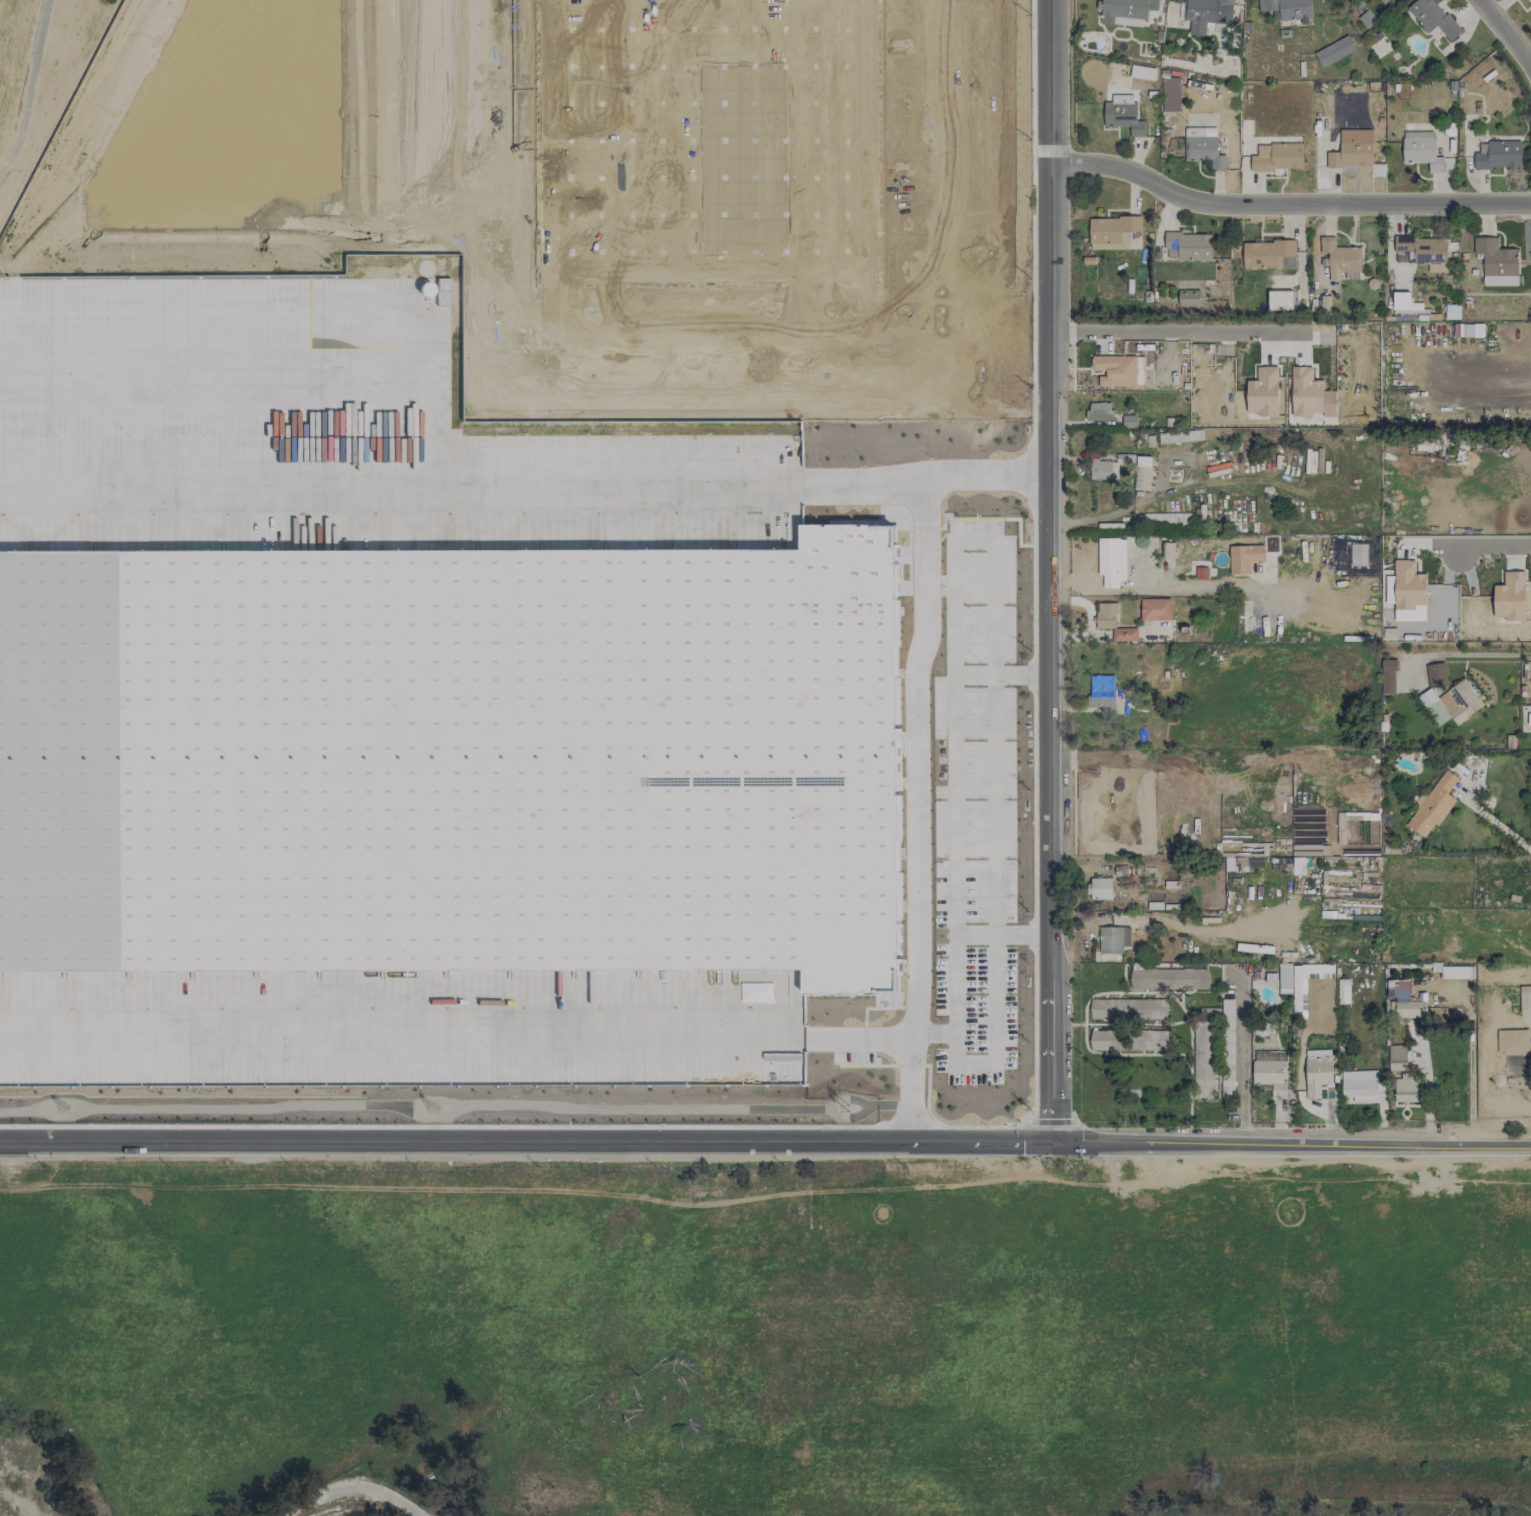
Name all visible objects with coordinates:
building: (1383, 1)
building: (1529, 2)
road: (1521, 8)
building: (1288, 9)
building: (1206, 14)
building: (1432, 18)
building: (1367, 19)
building: (1334, 51)
building: (1142, 72)
park: (37, 76)
road: (27, 85)
building: (1170, 94)
building: (1123, 114)
building: (711, 141)
building: (1203, 147)
building: (1421, 150)
building: (1351, 154)
building: (1498, 154)
building: (1277, 157)
road: (944, 172)
road: (1287, 213)
building: (1111, 232)
building: (1187, 246)
building: (1268, 254)
building: (1341, 260)
building: (1497, 262)
building: (1188, 297)
building: (1279, 300)
building: (1400, 300)
building: (1452, 311)
road: (1181, 332)
road: (759, 344)
building: (1114, 370)
building: (1263, 392)
building: (1305, 392)
building: (1099, 411)
building: (1128, 421)
building: (1104, 471)
building: (1166, 518)
road: (1474, 547)
building: (1168, 550)
building: (1358, 554)
building: (1244, 558)
building: (1111, 561)
road: (1050, 571)
building: (1201, 572)
building: (1405, 586)
building: (1509, 596)
building: (1155, 609)
building: (1114, 623)
road: (1481, 653)
building: (1436, 674)
building: (1388, 675)
building: (1101, 694)
building: (1461, 700)
building: (1434, 706)
road: (913, 756)
building: (450, 757)
building: (1432, 805)
road: (1494, 822)
building: (1242, 863)
building: (1100, 888)
building: (1113, 939)
building: (1285, 978)
building: (1169, 979)
building: (1343, 991)
building: (1299, 994)
building: (1525, 998)
building: (1406, 999)
building: (1124, 1007)
building: (1512, 1042)
road: (456, 1044)
building: (1228, 1046)
building: (1203, 1055)
building: (1397, 1057)
road: (1241, 1063)
building: (1270, 1071)
building: (1318, 1074)
building: (1359, 1085)
building: (1405, 1089)
road: (525, 1148)
road: (1290, 1149)
road: (348, 1487)

